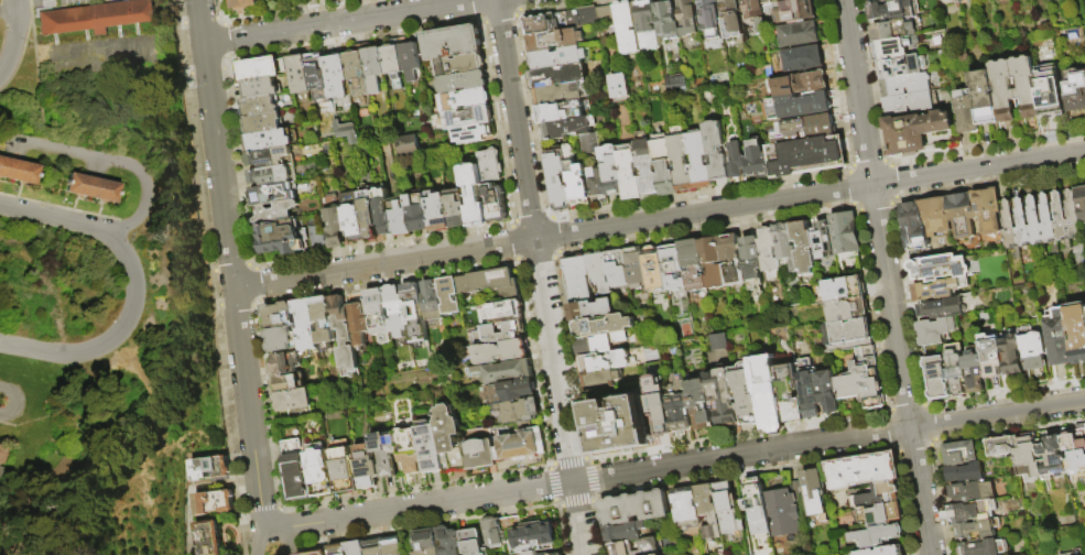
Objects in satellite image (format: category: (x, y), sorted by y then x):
building: (287, 0)
building: (963, 0)
parking lot: (75, 1)
building: (876, 1)
building: (766, 2)
building: (243, 3)
building: (893, 9)
road: (8, 11)
building: (794, 11)
road: (15, 13)
building: (755, 13)
building: (605, 15)
building: (95, 17)
building: (585, 17)
building: (687, 18)
building: (709, 19)
building: (730, 20)
building: (666, 21)
road: (200, 22)
road: (343, 22)
building: (540, 23)
building: (648, 25)
building: (626, 26)
building: (892, 29)
building: (799, 35)
building: (553, 40)
building: (451, 43)
building: (893, 45)
road: (12, 55)
building: (556, 58)
building: (802, 58)
building: (409, 61)
building: (902, 64)
road: (37, 65)
building: (392, 65)
building: (457, 65)
building: (258, 69)
building: (356, 69)
building: (373, 69)
building: (297, 75)
building: (316, 76)
building: (561, 76)
building: (903, 81)
building: (462, 83)
building: (616, 85)
building: (801, 85)
building: (260, 88)
building: (1026, 89)
building: (1075, 89)
building: (1049, 90)
building: (558, 94)
building: (984, 96)
building: (464, 100)
building: (907, 101)
building: (259, 106)
building: (799, 106)
building: (965, 110)
building: (560, 112)
building: (466, 118)
road: (516, 120)
building: (262, 123)
building: (345, 130)
building: (804, 130)
building: (914, 131)
building: (573, 132)
building: (473, 134)
building: (267, 141)
building: (405, 143)
building: (716, 151)
building: (807, 156)
building: (267, 157)
building: (701, 160)
building: (748, 160)
road: (116, 162)
building: (682, 162)
road: (218, 165)
building: (664, 165)
building: (489, 166)
building: (647, 166)
building: (611, 170)
building: (18, 171)
building: (629, 173)
building: (269, 177)
building: (566, 179)
building: (596, 184)
building: (89, 187)
building: (270, 195)
road: (810, 195)
building: (474, 196)
building: (1079, 203)
building: (495, 204)
building: (456, 209)
building: (987, 210)
building: (274, 211)
building: (381, 213)
building: (416, 213)
building: (367, 214)
building: (436, 214)
building: (962, 214)
building: (935, 215)
building: (351, 216)
building: (1071, 216)
building: (1059, 217)
building: (399, 219)
building: (1046, 219)
road: (56, 220)
building: (1034, 221)
building: (334, 222)
building: (912, 225)
building: (1009, 225)
building: (1022, 225)
building: (845, 233)
building: (279, 239)
building: (823, 240)
building: (786, 247)
building: (804, 248)
building: (768, 250)
building: (730, 261)
building: (751, 261)
road: (384, 263)
building: (713, 263)
building: (692, 265)
building: (673, 266)
building: (617, 268)
building: (940, 268)
building: (636, 269)
building: (654, 270)
building: (599, 272)
road: (887, 276)
building: (577, 279)
park: (98, 283)
building: (490, 283)
building: (937, 289)
building: (844, 290)
building: (448, 296)
building: (431, 303)
building: (940, 307)
building: (395, 311)
building: (589, 311)
building: (847, 311)
building: (506, 312)
building: (414, 313)
building: (278, 315)
building: (378, 315)
building: (357, 317)
building: (323, 323)
building: (305, 326)
building: (601, 327)
building: (934, 330)
building: (343, 333)
building: (485, 333)
building: (846, 333)
building: (1077, 333)
building: (1059, 336)
road: (106, 337)
building: (279, 339)
building: (717, 340)
building: (597, 345)
building: (1033, 349)
building: (1011, 351)
building: (500, 352)
building: (992, 357)
road: (554, 361)
building: (603, 362)
building: (284, 363)
building: (955, 369)
building: (974, 370)
building: (506, 372)
building: (936, 378)
building: (870, 379)
building: (598, 380)
building: (850, 383)
building: (286, 384)
building: (517, 390)
building: (809, 391)
building: (827, 391)
building: (767, 392)
building: (790, 392)
building: (747, 394)
building: (723, 396)
building: (293, 401)
road: (18, 403)
building: (698, 404)
building: (658, 407)
road: (249, 409)
building: (518, 411)
building: (679, 413)
building: (617, 426)
building: (449, 438)
building: (521, 445)
building: (430, 447)
building: (1001, 448)
building: (1075, 449)
building: (410, 451)
building: (481, 454)
building: (386, 455)
building: (961, 455)
building: (2, 457)
building: (1054, 457)
building: (1029, 458)
road: (674, 465)
building: (367, 467)
building: (210, 469)
building: (343, 469)
building: (295, 470)
building: (319, 471)
building: (862, 472)
building: (965, 476)
building: (813, 494)
building: (972, 494)
building: (878, 497)
building: (215, 503)
building: (686, 508)
building: (633, 509)
building: (727, 509)
building: (757, 509)
building: (708, 512)
building: (783, 513)
building: (973, 513)
building: (878, 514)
road: (578, 519)
building: (490, 532)
building: (978, 532)
building: (626, 533)
building: (525, 534)
road: (20, 535)
building: (876, 536)
road: (282, 537)
building: (209, 538)
building: (447, 541)
road: (257, 542)
building: (423, 543)
building: (469, 543)
building: (391, 546)
building: (621, 547)
building: (356, 548)
building: (373, 548)
building: (985, 548)
building: (337, 549)
building: (890, 551)
building: (313, 553)
building: (533, 553)
building: (1071, 553)

